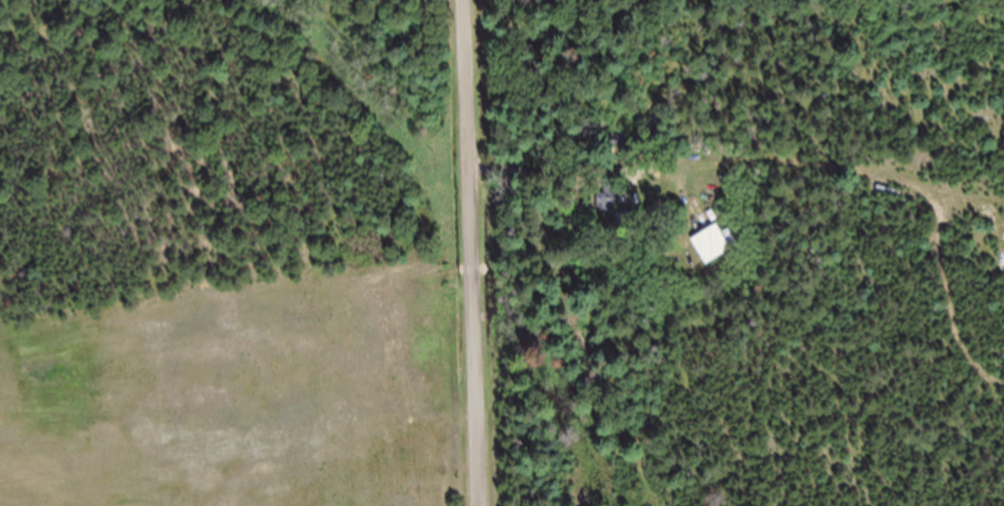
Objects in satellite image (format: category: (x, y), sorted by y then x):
building: (889, 201)
building: (613, 205)
road: (475, 252)
airport: (233, 254)
building: (712, 254)
airport runway: (194, 478)

